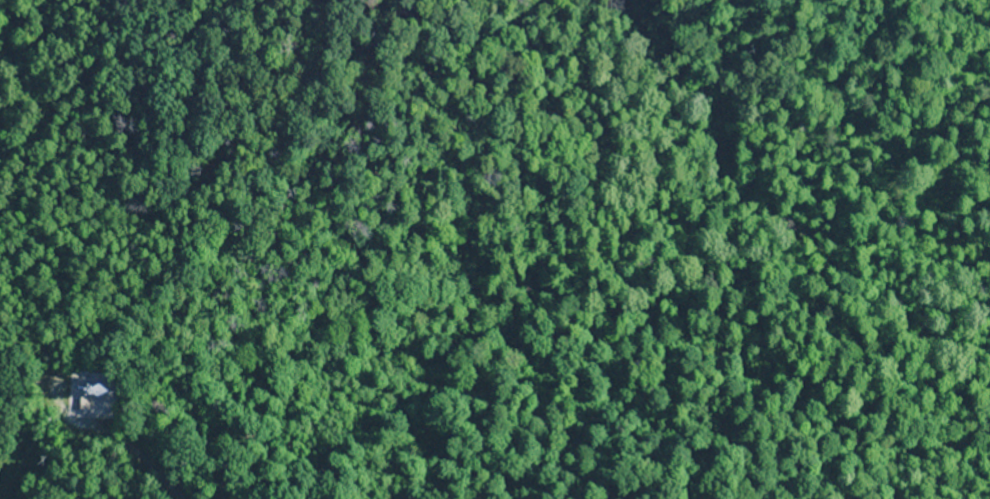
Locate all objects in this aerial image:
building: (79, 403)

